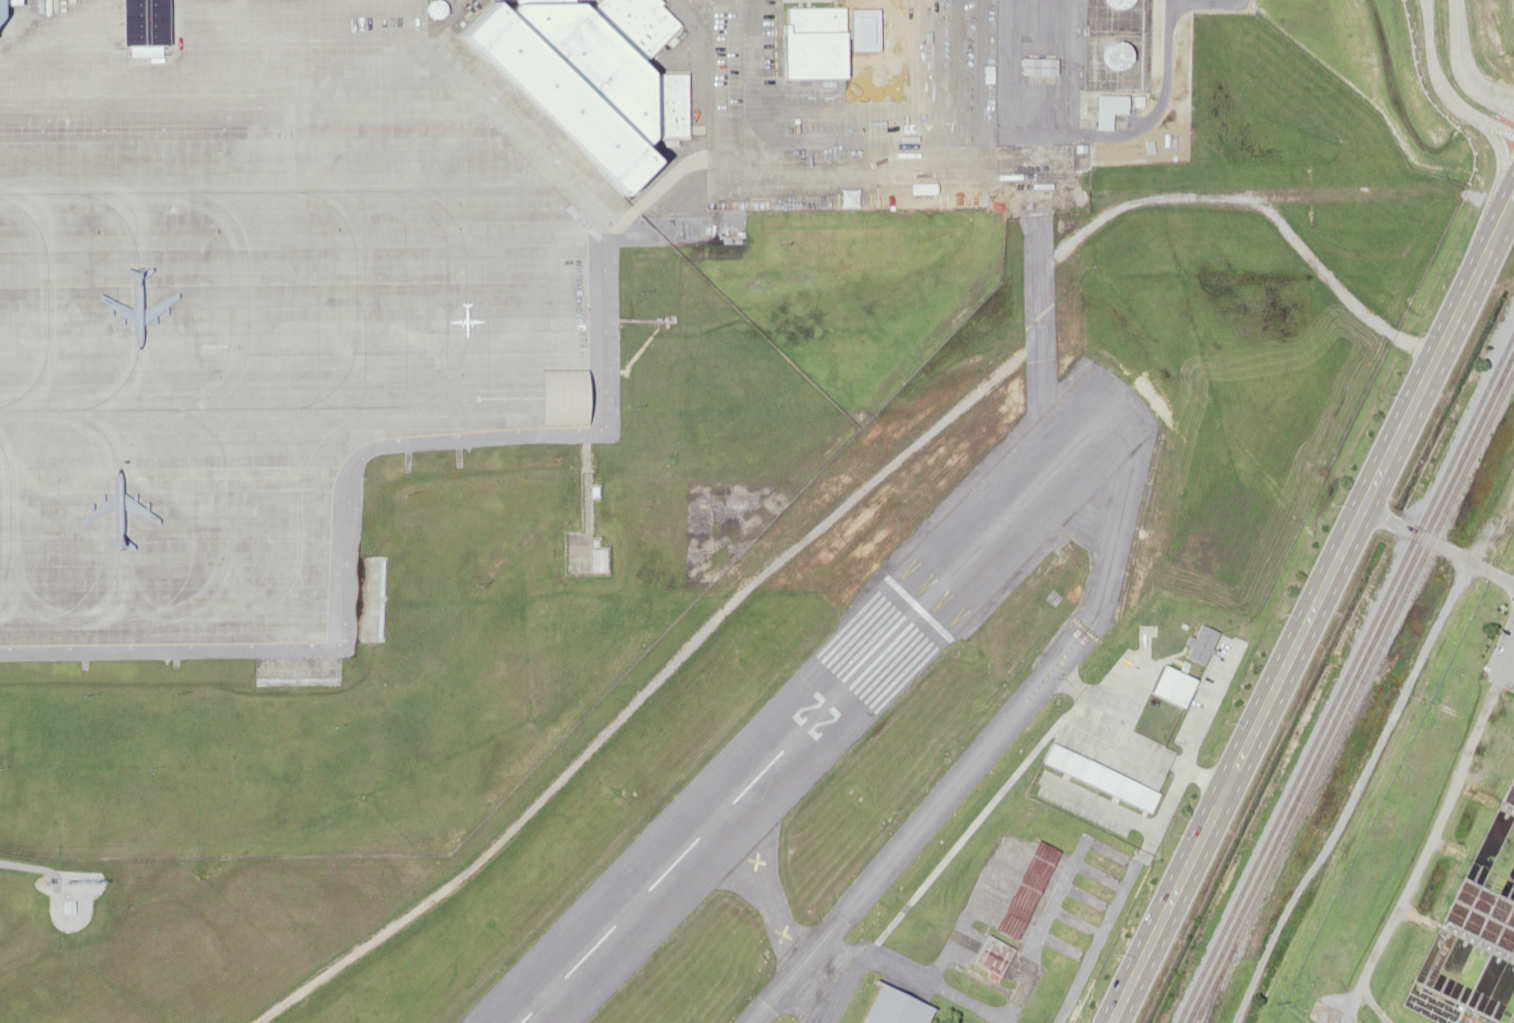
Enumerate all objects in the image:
building: (2, 2)
building: (1114, 3)
building: (138, 22)
building: (809, 42)
building: (1111, 55)
road: (1471, 62)
building: (1035, 65)
road: (712, 71)
road: (1447, 82)
building: (529, 86)
road: (1512, 103)
building: (662, 104)
building: (1104, 109)
road: (1509, 142)
building: (1078, 156)
road: (681, 174)
building: (918, 188)
airport apron: (262, 310)
airport: (669, 480)
road: (1410, 530)
building: (598, 559)
road: (1309, 612)
railway: (1344, 676)
railway: (1349, 684)
railway: (1353, 697)
airport runway: (813, 710)
airport taxiway: (1004, 724)
wastewater plant: (1433, 857)
airport hangar: (1101, 867)
building: (1101, 867)
airport hangar: (1022, 891)
building: (1022, 891)
building: (66, 905)
airport hangar: (992, 954)
building: (992, 954)
railway: (1218, 987)
airport hangar: (894, 1007)
building: (894, 1007)

